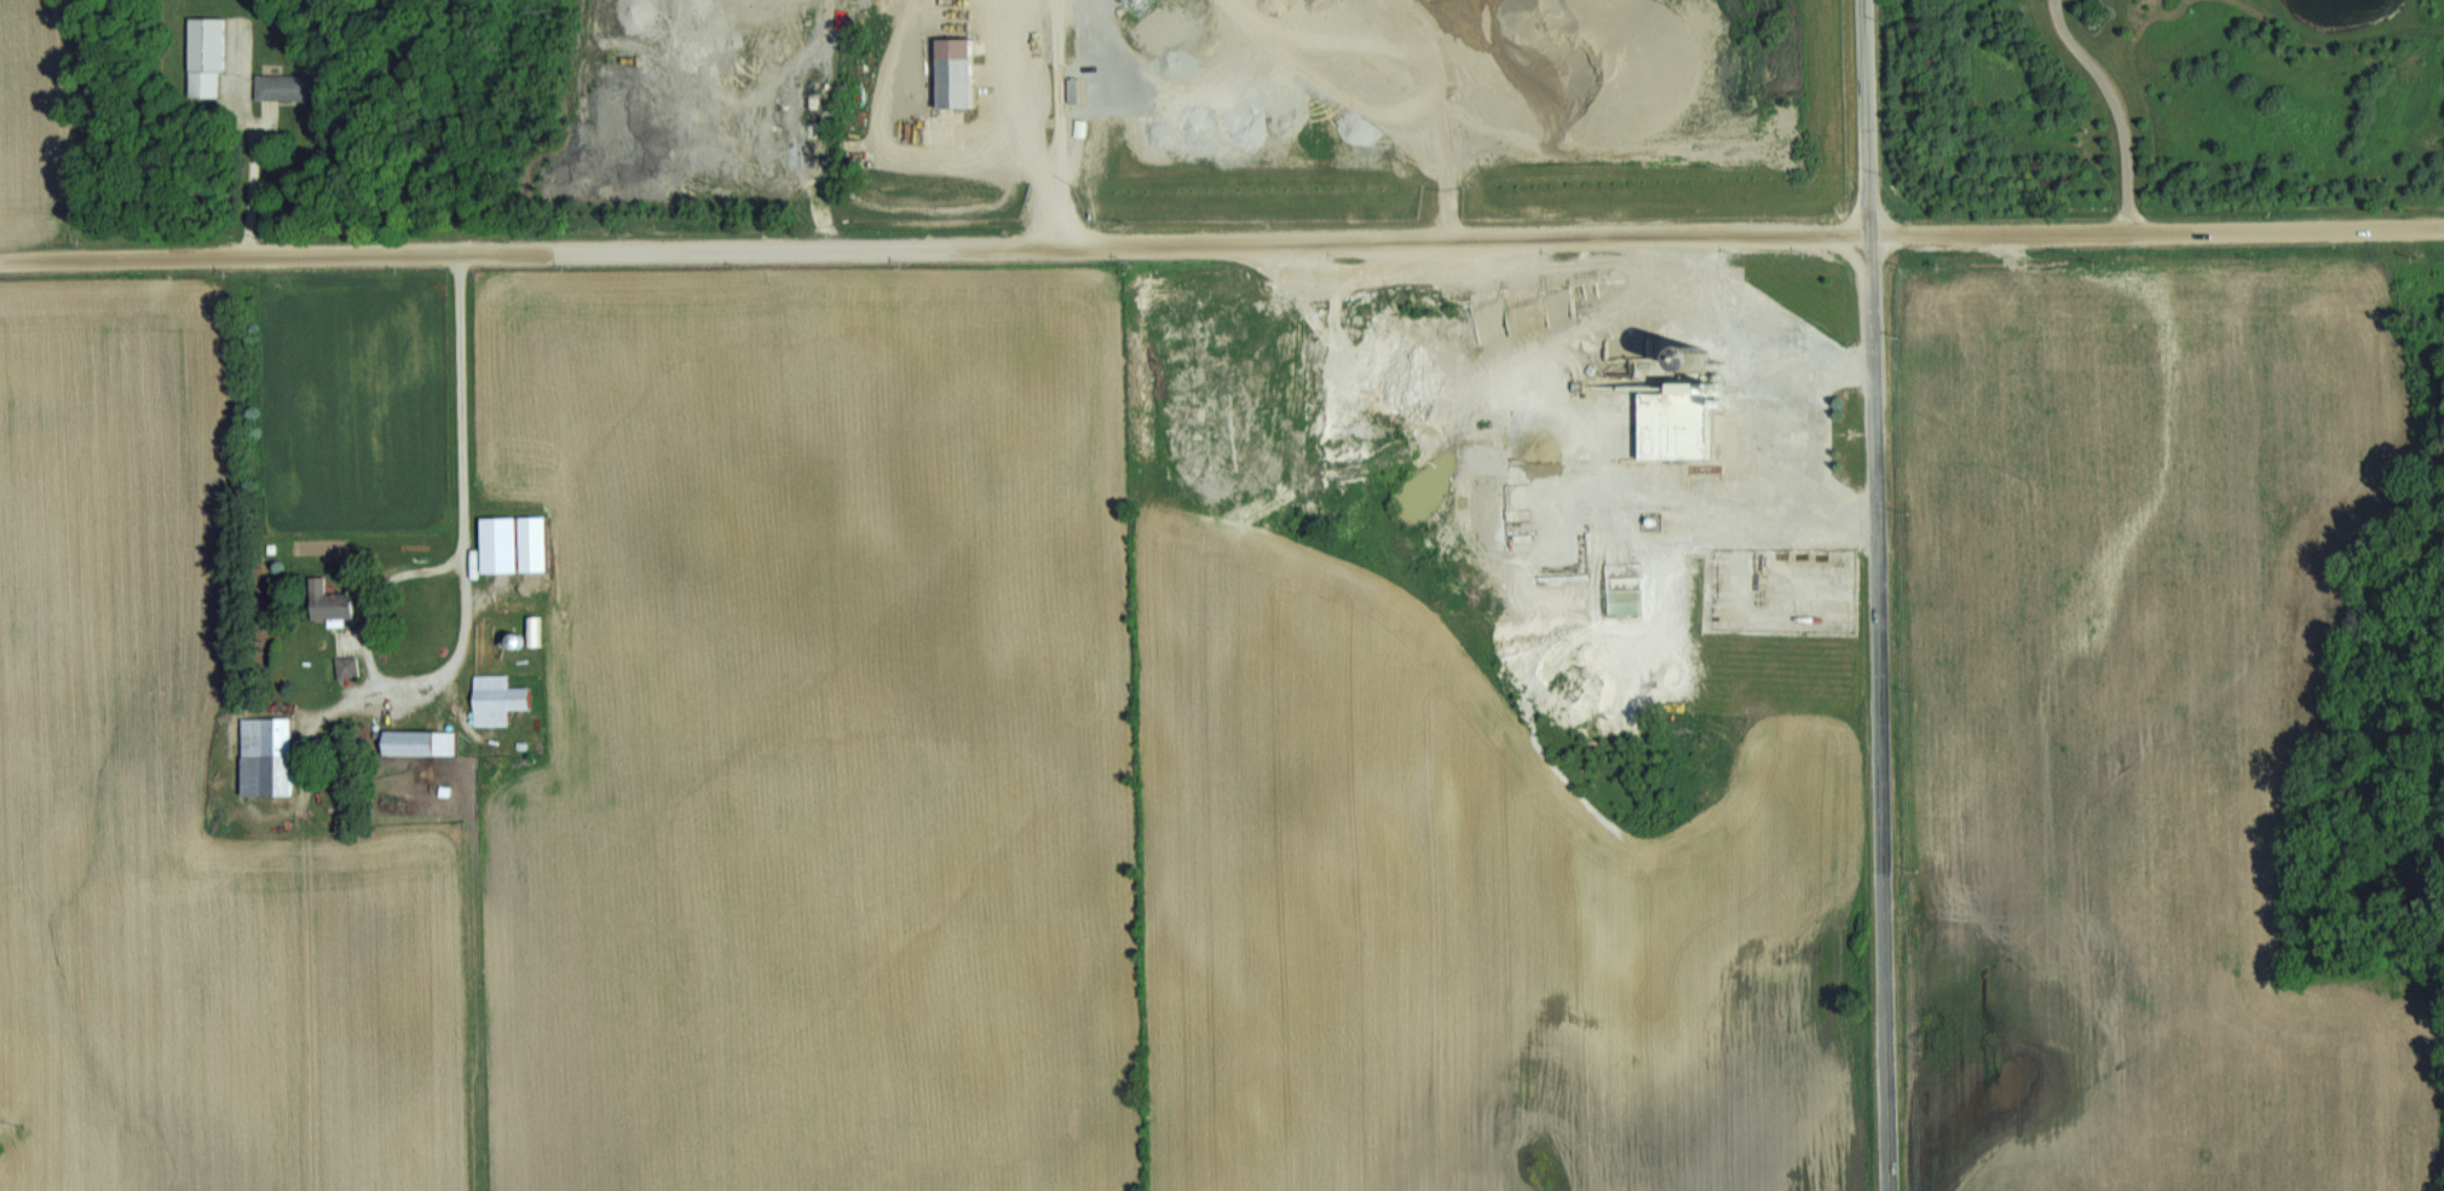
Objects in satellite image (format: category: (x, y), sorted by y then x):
building: (959, 71)
building: (206, 83)
building: (288, 86)
road: (1222, 244)
building: (1690, 426)
building: (506, 542)
road: (1875, 595)
building: (336, 602)
building: (351, 665)
building: (328, 671)
building: (503, 698)
building: (426, 741)
building: (275, 755)

